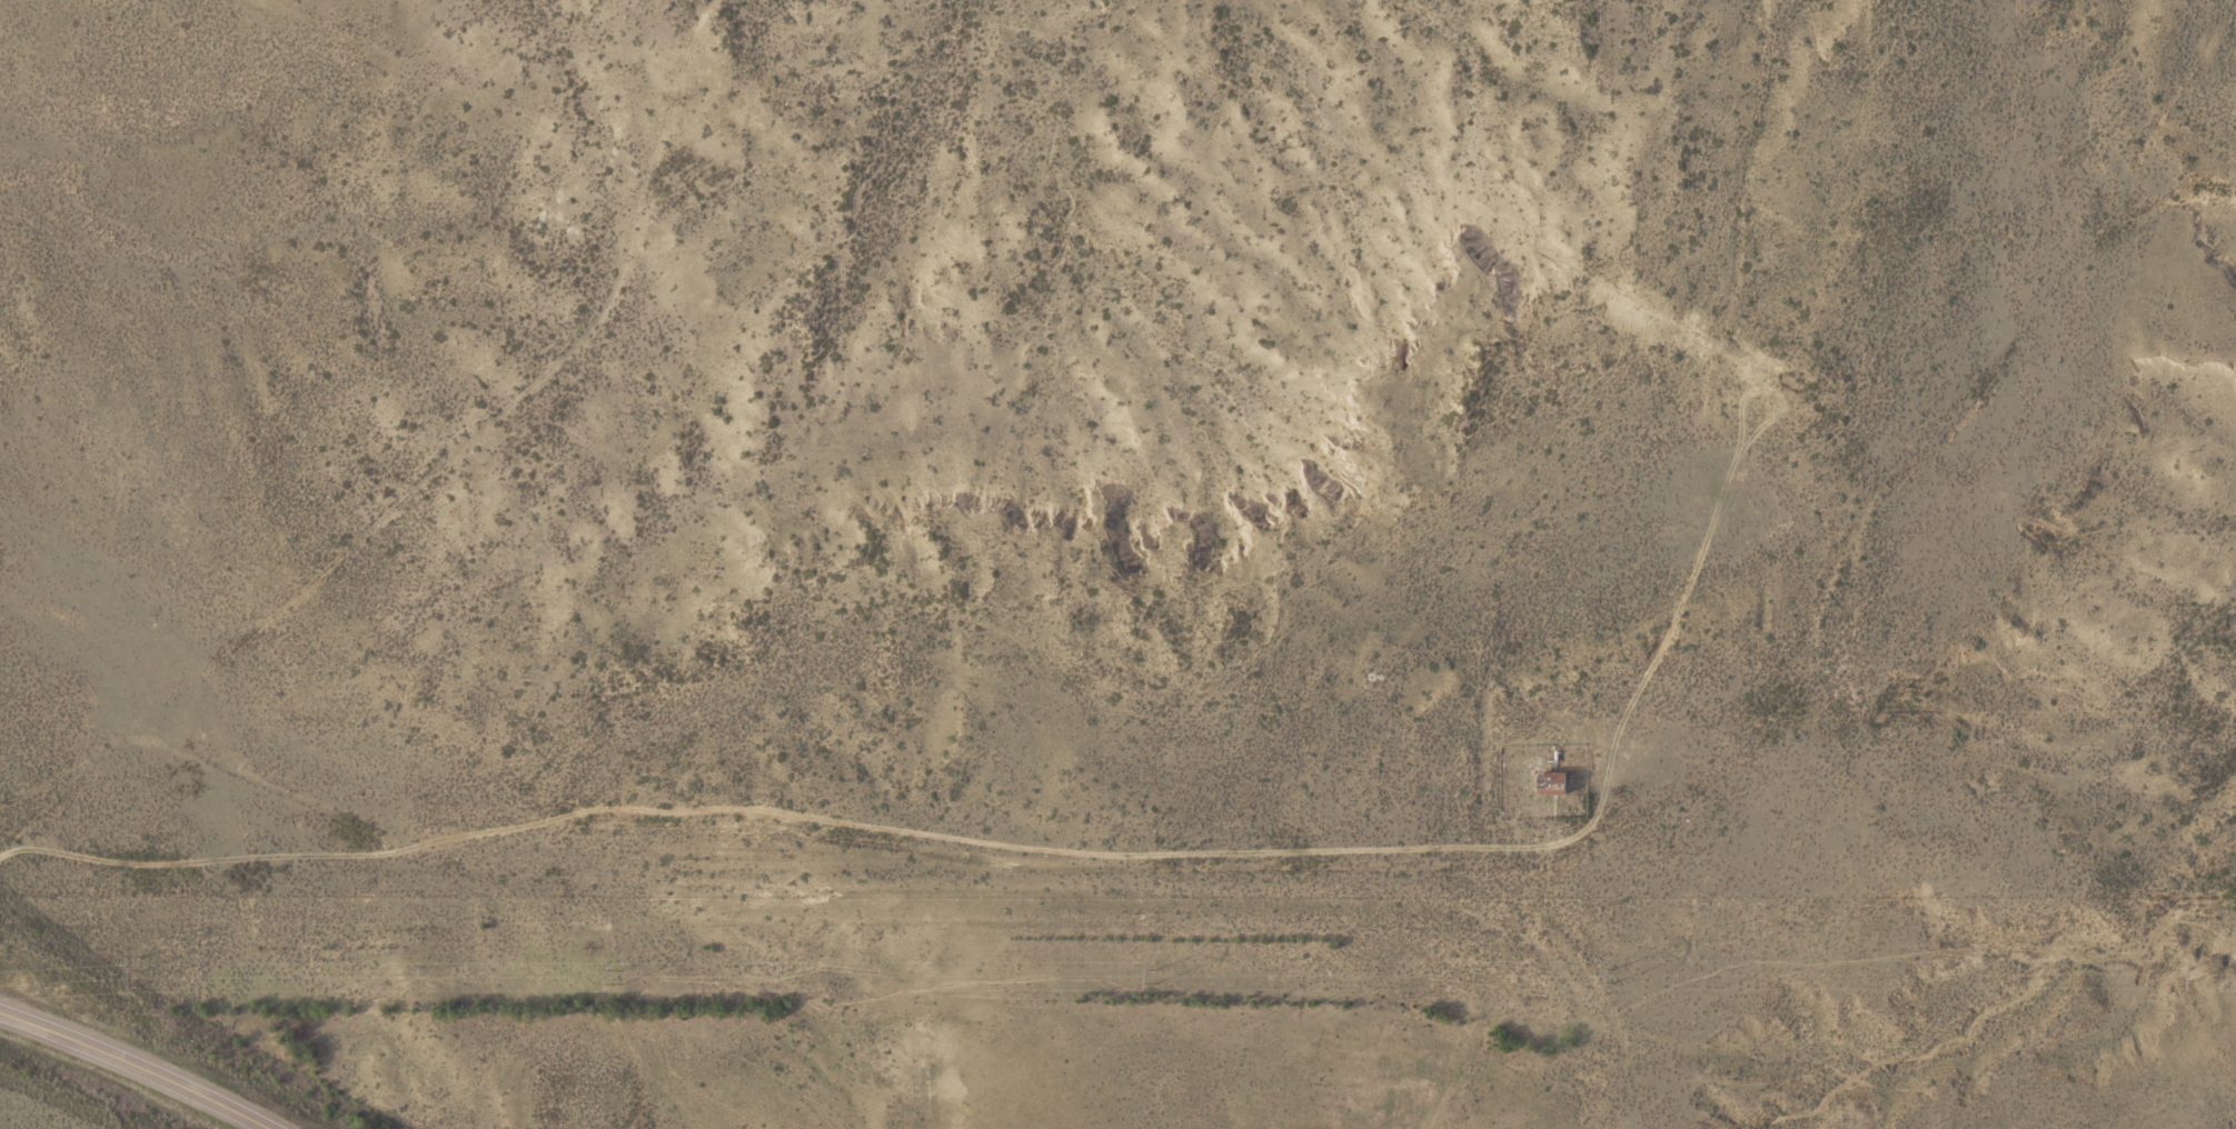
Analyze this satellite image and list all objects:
building: (1559, 782)
road: (1015, 838)
power tower: (142, 970)
power tower: (2188, 971)
power tower: (1153, 975)
power tower: (1612, 975)
power tower: (619, 976)
road: (138, 1067)

